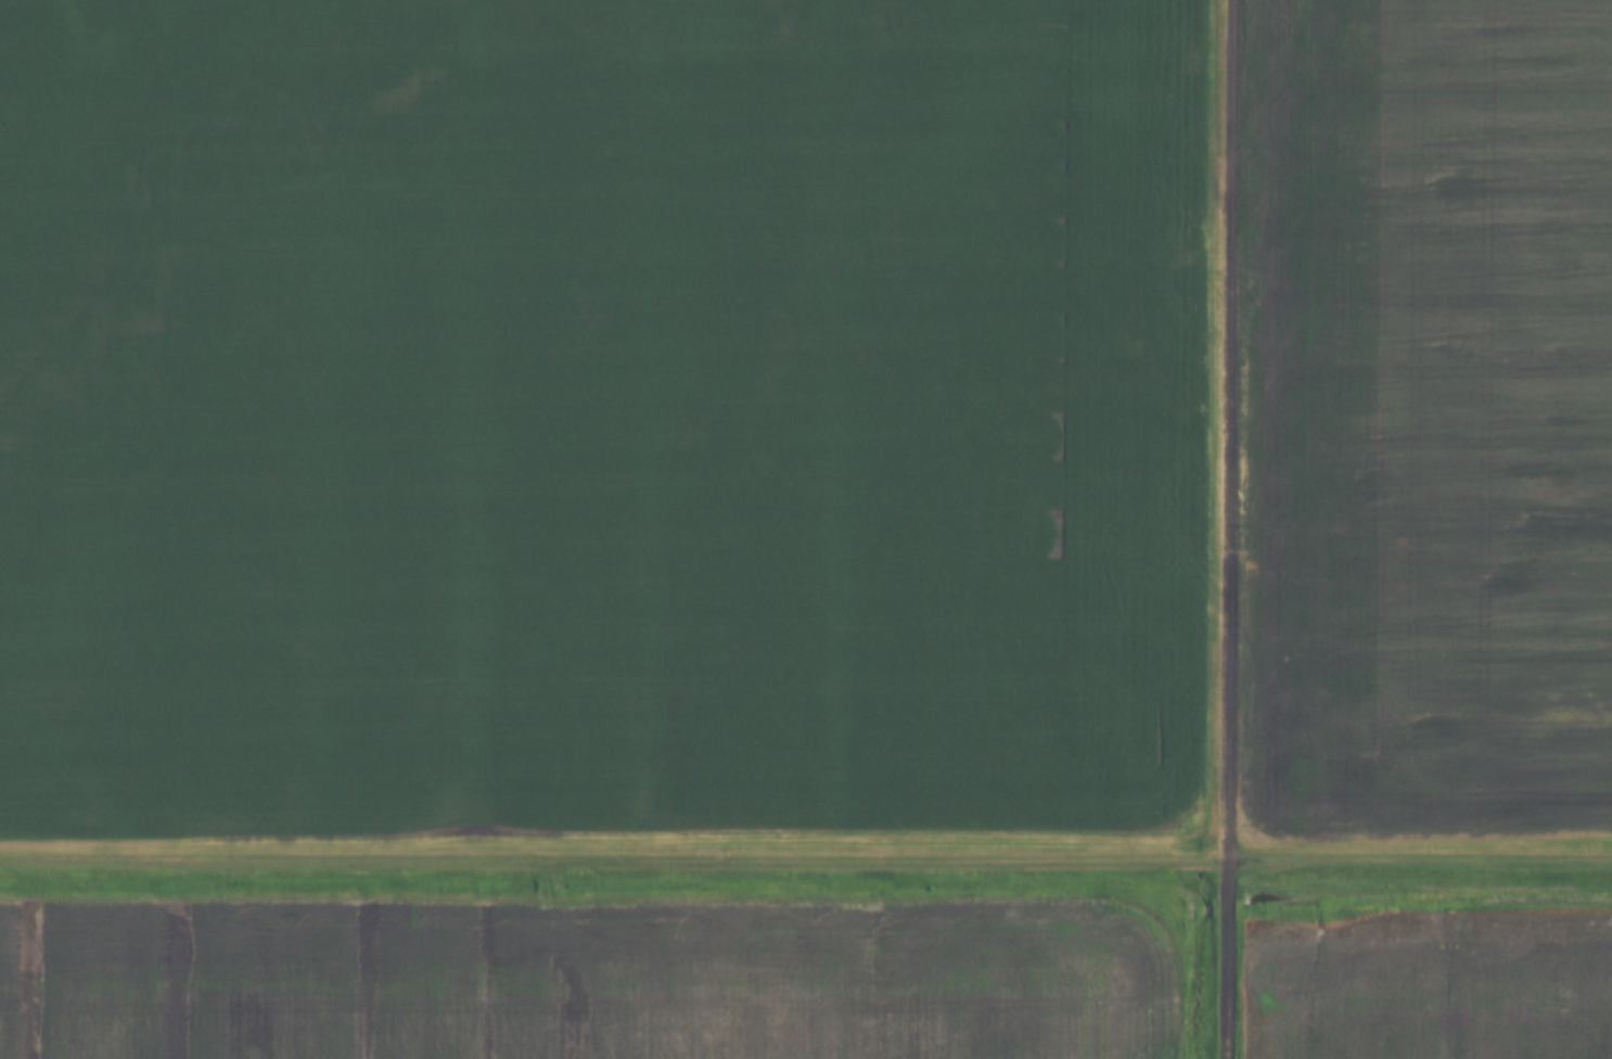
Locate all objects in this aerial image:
road: (1230, 529)
road: (806, 865)

